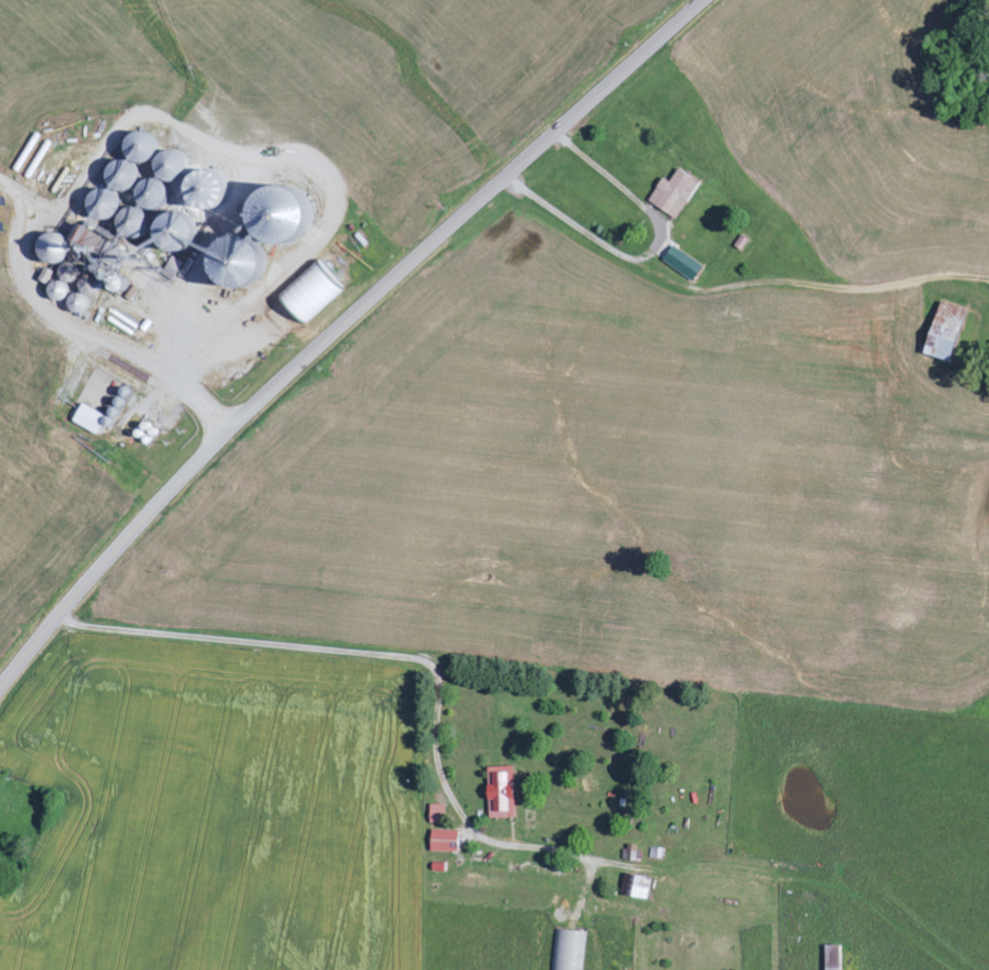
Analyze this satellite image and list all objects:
building: (676, 193)
building: (685, 263)
building: (313, 293)
road: (337, 329)
building: (947, 332)
building: (91, 419)
building: (503, 796)
building: (439, 814)
building: (446, 841)
building: (642, 888)

